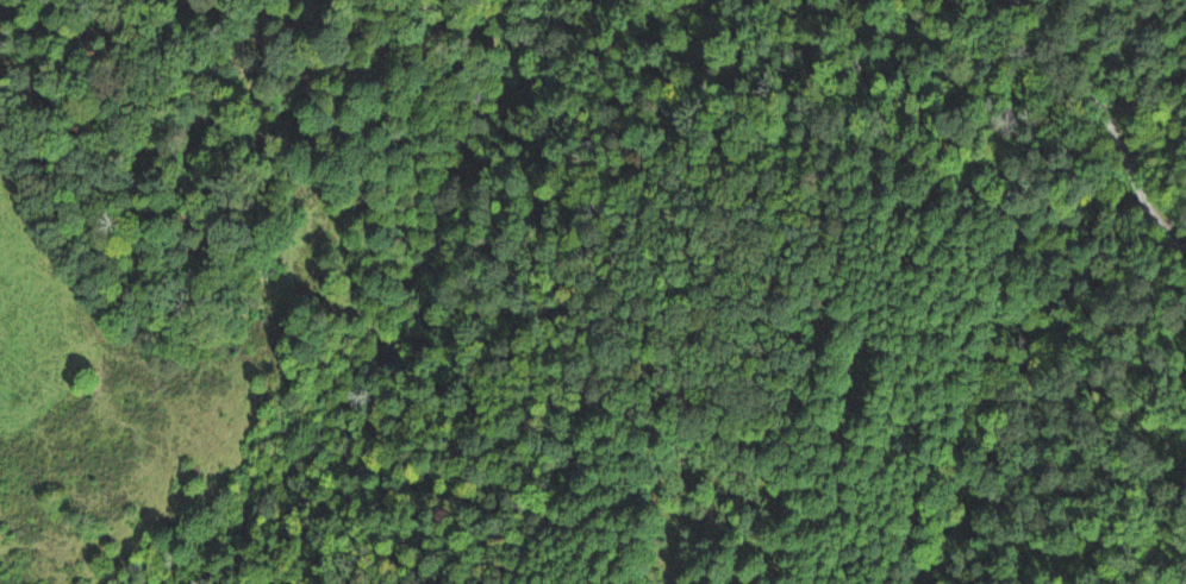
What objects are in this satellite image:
road: (1094, 123)

